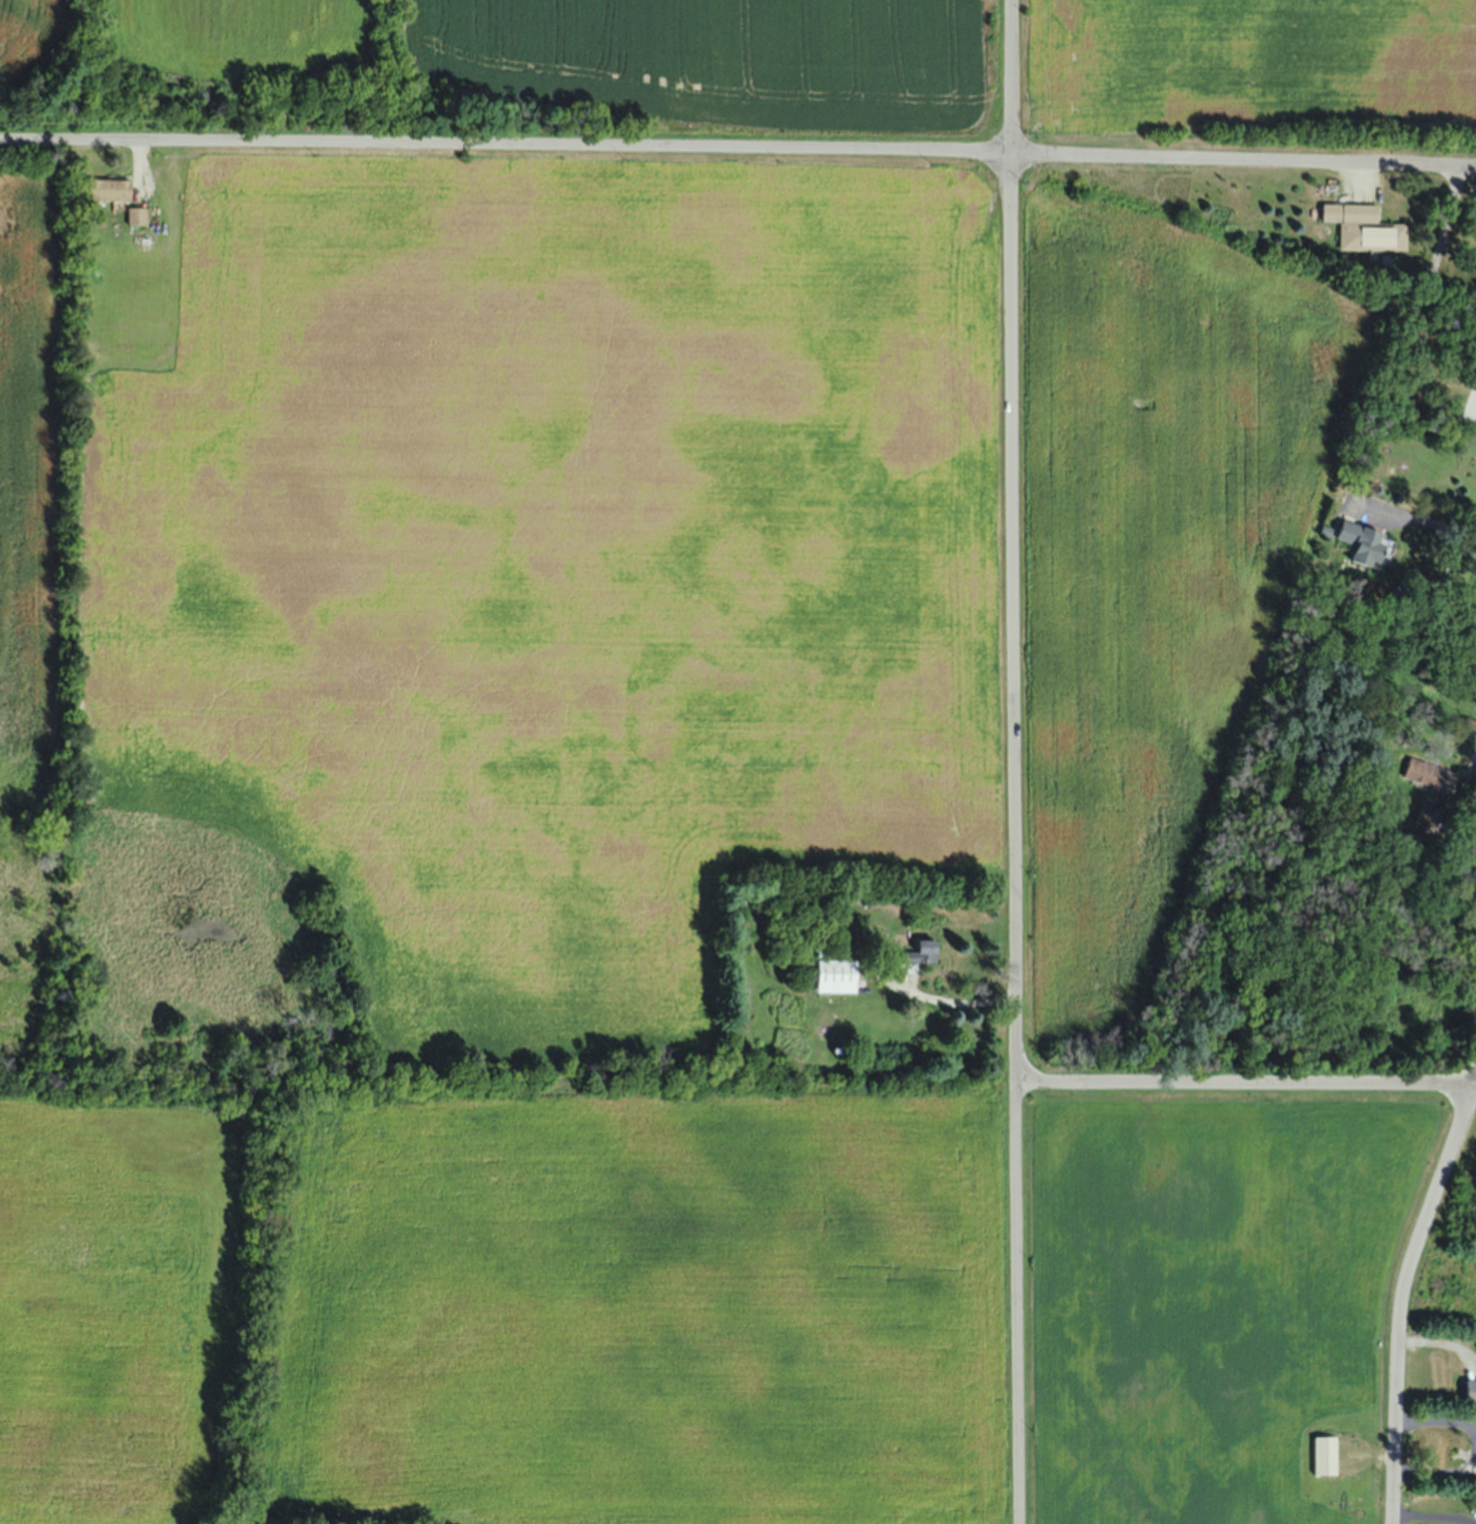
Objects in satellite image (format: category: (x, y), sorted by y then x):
road: (507, 147)
road: (1245, 159)
building: (113, 189)
building: (139, 215)
building: (1364, 228)
road: (1439, 259)
road: (1420, 525)
building: (1357, 540)
crop: (1148, 567)
road: (1395, 725)
road: (1018, 762)
building: (1420, 771)
building: (1427, 813)
building: (842, 975)
road: (957, 1000)
road: (1474, 1078)
road: (1246, 1081)
road: (1401, 1297)
road: (1473, 1444)
building: (1323, 1455)
road: (1435, 1511)

